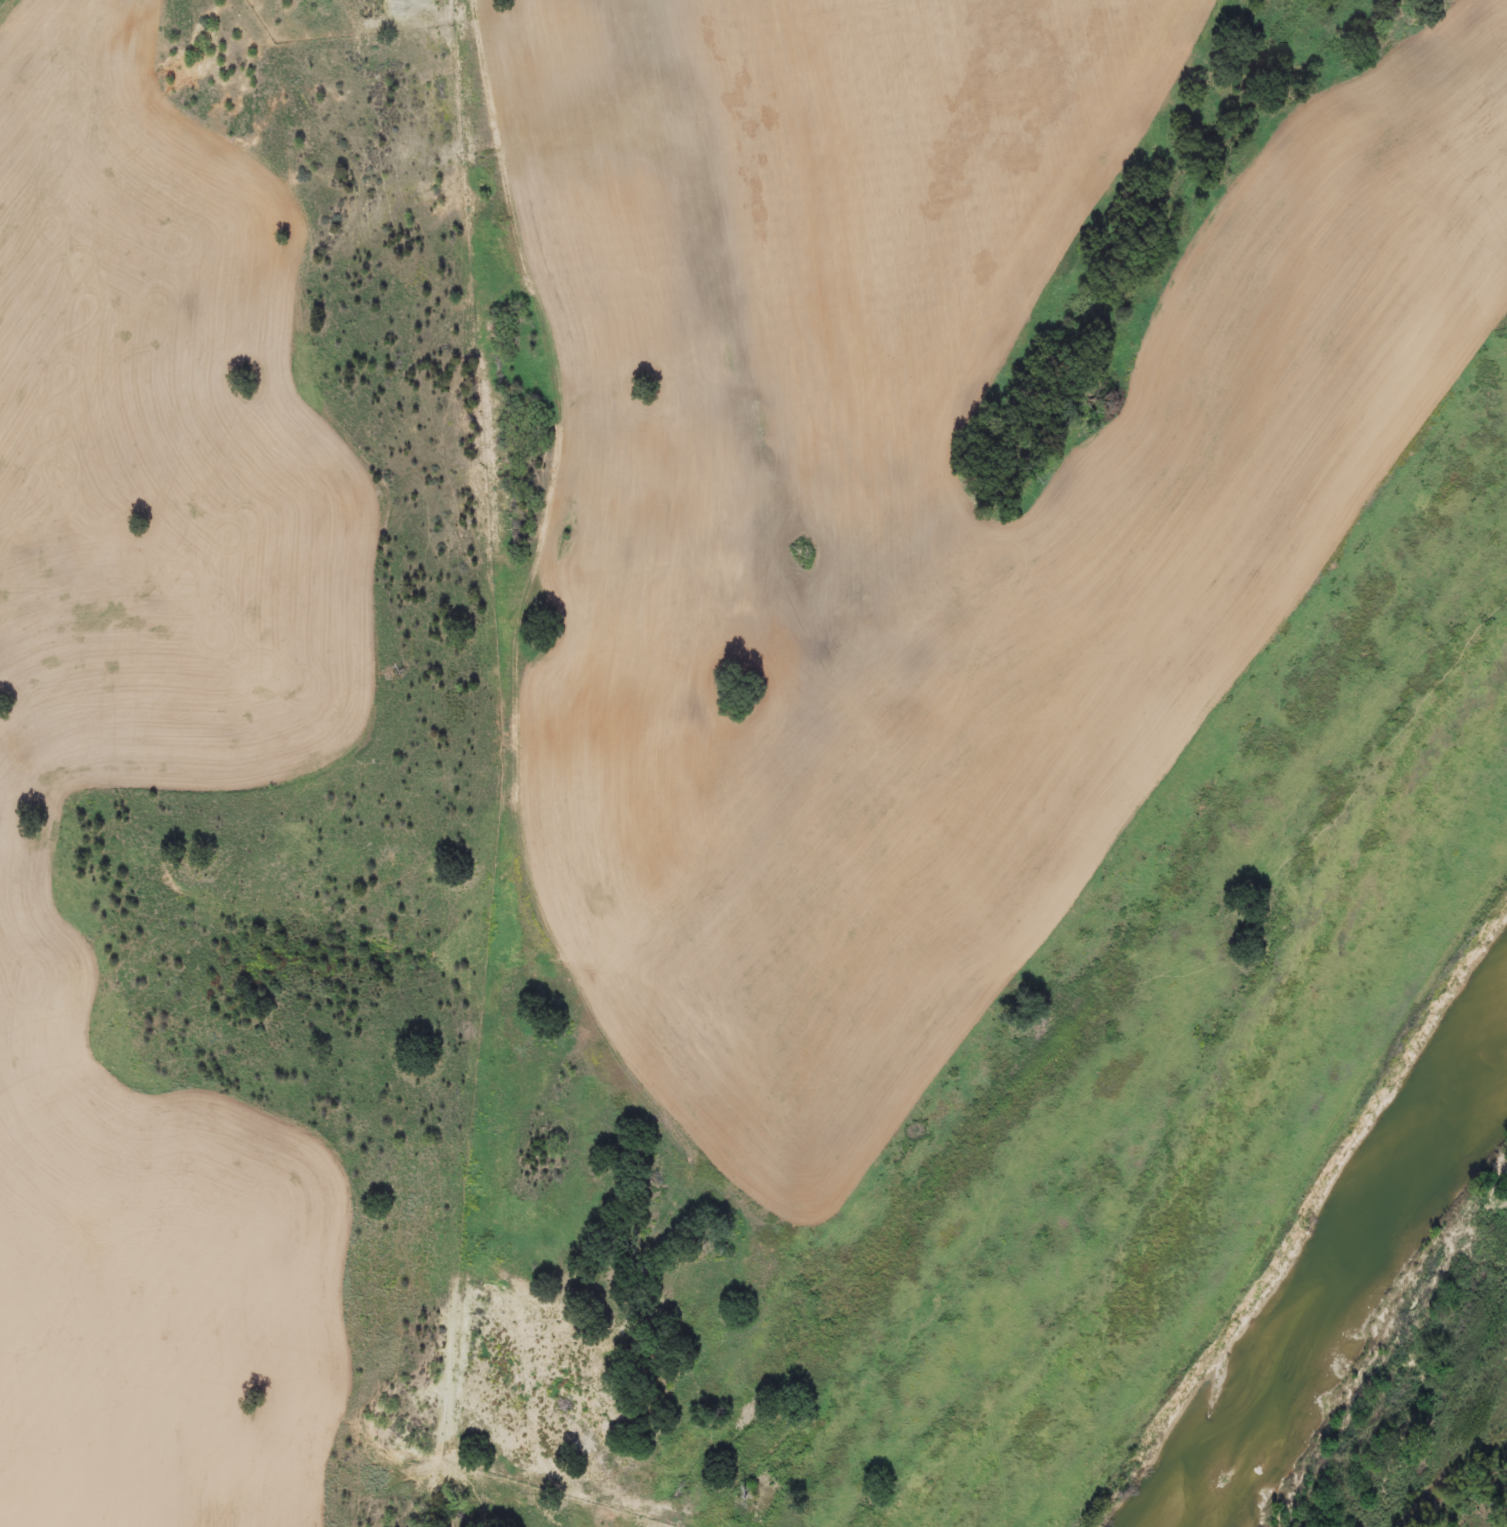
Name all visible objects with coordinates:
river: (1333, 1275)

